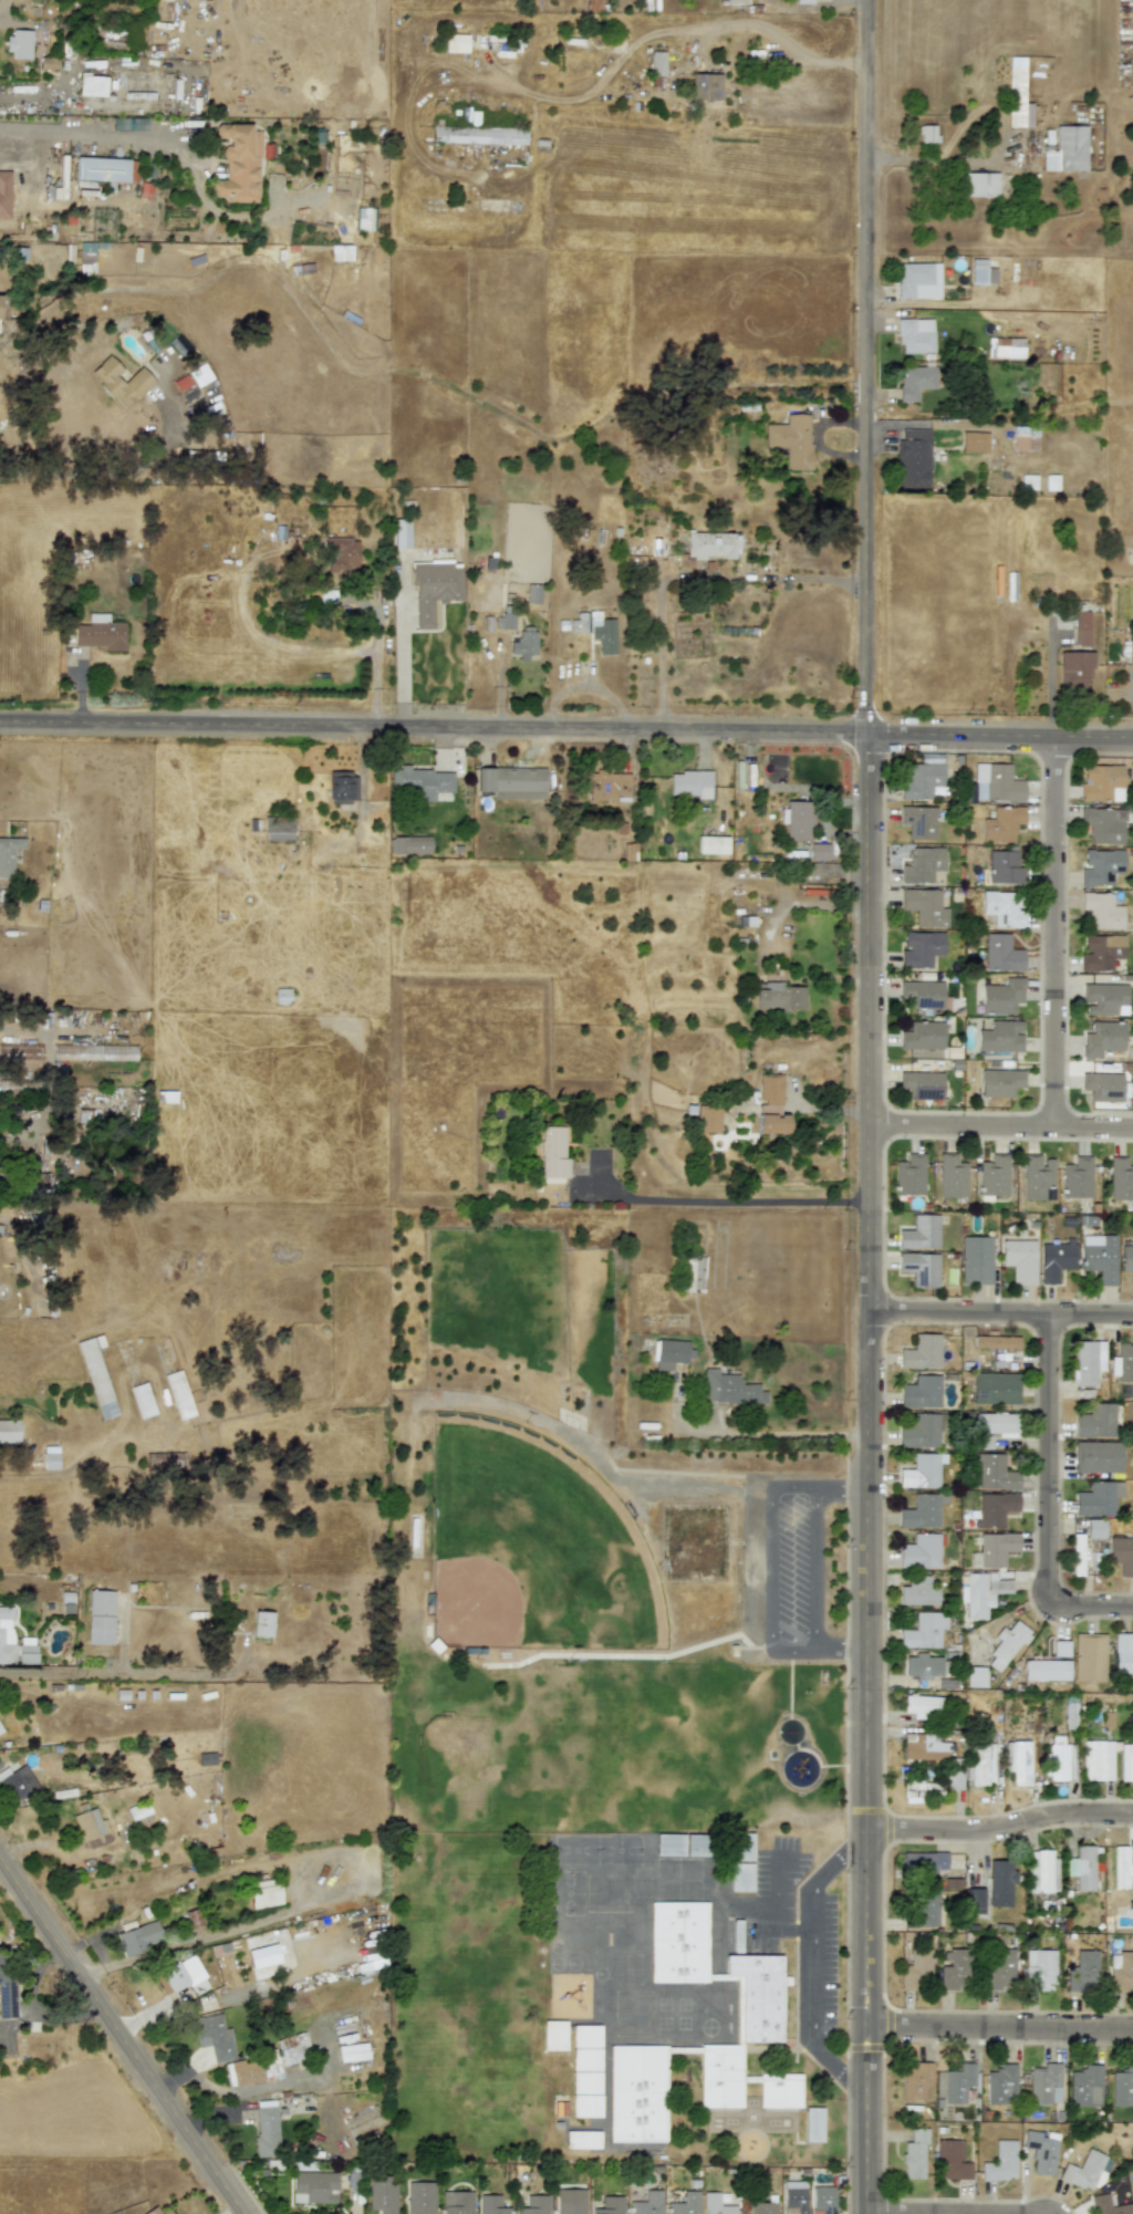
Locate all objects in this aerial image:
building: (803, 1)
building: (593, 4)
road: (10, 24)
building: (19, 43)
building: (456, 43)
building: (656, 63)
building: (92, 85)
building: (705, 86)
building: (1017, 95)
road: (571, 101)
building: (129, 124)
building: (927, 133)
building: (477, 135)
road: (86, 141)
building: (1067, 149)
road: (952, 160)
building: (238, 164)
building: (101, 169)
building: (979, 184)
building: (4, 194)
building: (364, 218)
building: (340, 252)
building: (86, 253)
building: (984, 272)
building: (918, 280)
building: (0, 306)
building: (1005, 347)
building: (121, 382)
building: (1025, 438)
building: (791, 440)
building: (974, 441)
building: (913, 459)
road: (90, 471)
building: (1040, 481)
building: (402, 533)
building: (654, 543)
building: (707, 547)
building: (341, 555)
road: (803, 578)
building: (434, 590)
building: (532, 593)
road: (659, 612)
building: (506, 622)
building: (1081, 627)
building: (595, 630)
building: (98, 633)
building: (523, 644)
road: (376, 648)
building: (1073, 671)
road: (1048, 678)
road: (566, 727)
building: (919, 780)
building: (420, 781)
building: (1100, 781)
building: (513, 782)
building: (996, 782)
building: (689, 783)
building: (341, 787)
building: (609, 787)
building: (797, 820)
building: (919, 821)
building: (1001, 824)
building: (1103, 824)
building: (278, 829)
building: (408, 845)
building: (711, 845)
building: (819, 851)
building: (8, 854)
building: (1100, 865)
building: (924, 866)
building: (1004, 866)
building: (924, 906)
building: (1002, 908)
building: (1101, 911)
road: (1054, 935)
building: (921, 949)
building: (1100, 952)
building: (1001, 953)
building: (922, 994)
building: (282, 996)
building: (1001, 996)
building: (778, 997)
building: (1103, 999)
building: (923, 1036)
building: (999, 1036)
building: (1102, 1038)
building: (90, 1053)
building: (20, 1056)
building: (1000, 1082)
building: (922, 1084)
building: (1102, 1087)
building: (770, 1105)
road: (871, 1106)
building: (707, 1119)
road: (1002, 1130)
building: (551, 1153)
building: (909, 1175)
building: (992, 1176)
building: (952, 1177)
building: (1037, 1177)
building: (1075, 1177)
building: (1120, 1179)
road: (727, 1200)
building: (919, 1233)
building: (1099, 1257)
building: (975, 1259)
building: (1019, 1259)
building: (1056, 1259)
building: (1126, 1260)
building: (919, 1268)
building: (692, 1274)
road: (1001, 1316)
building: (995, 1342)
building: (921, 1352)
building: (668, 1353)
building: (1087, 1362)
building: (1122, 1362)
building: (96, 1375)
building: (995, 1387)
building: (729, 1389)
building: (919, 1392)
building: (178, 1394)
building: (142, 1401)
building: (1094, 1421)
building: (995, 1423)
building: (9, 1431)
building: (919, 1432)
road: (776, 1434)
building: (50, 1457)
building: (1098, 1457)
road: (72, 1468)
building: (921, 1470)
building: (994, 1473)
road: (843, 1487)
building: (1098, 1498)
road: (1049, 1505)
building: (994, 1508)
building: (921, 1511)
building: (1094, 1528)
building: (992, 1549)
building: (919, 1551)
building: (1077, 1555)
building: (1121, 1555)
road: (766, 1570)
road: (814, 1570)
building: (918, 1591)
building: (980, 1593)
building: (98, 1617)
building: (261, 1624)
building: (923, 1630)
building: (6, 1635)
building: (1006, 1644)
building: (25, 1650)
road: (843, 1653)
building: (1122, 1653)
building: (1089, 1656)
building: (923, 1666)
building: (1046, 1670)
road: (33, 1674)
building: (975, 1676)
building: (922, 1705)
building: (1070, 1715)
building: (1, 1729)
building: (924, 1747)
building: (1059, 1759)
building: (1096, 1760)
building: (1017, 1761)
building: (1126, 1763)
building: (980, 1765)
building: (953, 1780)
building: (15, 1781)
building: (917, 1790)
building: (138, 1810)
road: (1001, 1827)
building: (92, 1829)
building: (680, 1844)
building: (740, 1862)
building: (923, 1862)
building: (1082, 1867)
building: (1120, 1867)
building: (1040, 1871)
building: (999, 1882)
building: (264, 1896)
building: (975, 1901)
building: (924, 1911)
road: (776, 1913)
building: (138, 1937)
building: (678, 1942)
building: (263, 1955)
road: (812, 1964)
building: (998, 1968)
building: (914, 1969)
building: (1038, 1969)
building: (1083, 1969)
building: (953, 1971)
building: (1119, 1972)
building: (178, 1974)
building: (7, 1994)
building: (757, 1995)
road: (1001, 2028)
road: (119, 2035)
building: (553, 2035)
building: (212, 2036)
building: (585, 2036)
building: (352, 2051)
building: (285, 2054)
building: (584, 2059)
building: (246, 2071)
building: (721, 2076)
building: (584, 2082)
building: (958, 2082)
building: (916, 2083)
building: (1001, 2085)
building: (1043, 2085)
building: (1084, 2086)
building: (1122, 2086)
building: (779, 2090)
building: (637, 2093)
building: (585, 2106)
building: (363, 2121)
building: (813, 2124)
building: (266, 2132)
building: (582, 2140)
building: (1041, 2151)
building: (914, 2155)
building: (950, 2160)
building: (1000, 2162)
building: (1083, 2170)
building: (313, 2187)
building: (382, 2196)
building: (419, 2197)
building: (793, 2197)
building: (822, 2200)
building: (570, 2201)
building: (456, 2203)
building: (646, 2203)
building: (490, 2204)
building: (685, 2204)
building: (715, 2204)
building: (533, 2205)
building: (609, 2205)
building: (1106, 2205)
building: (761, 2207)
building: (152, 2211)
building: (165, 2212)
road: (950, 2213)

